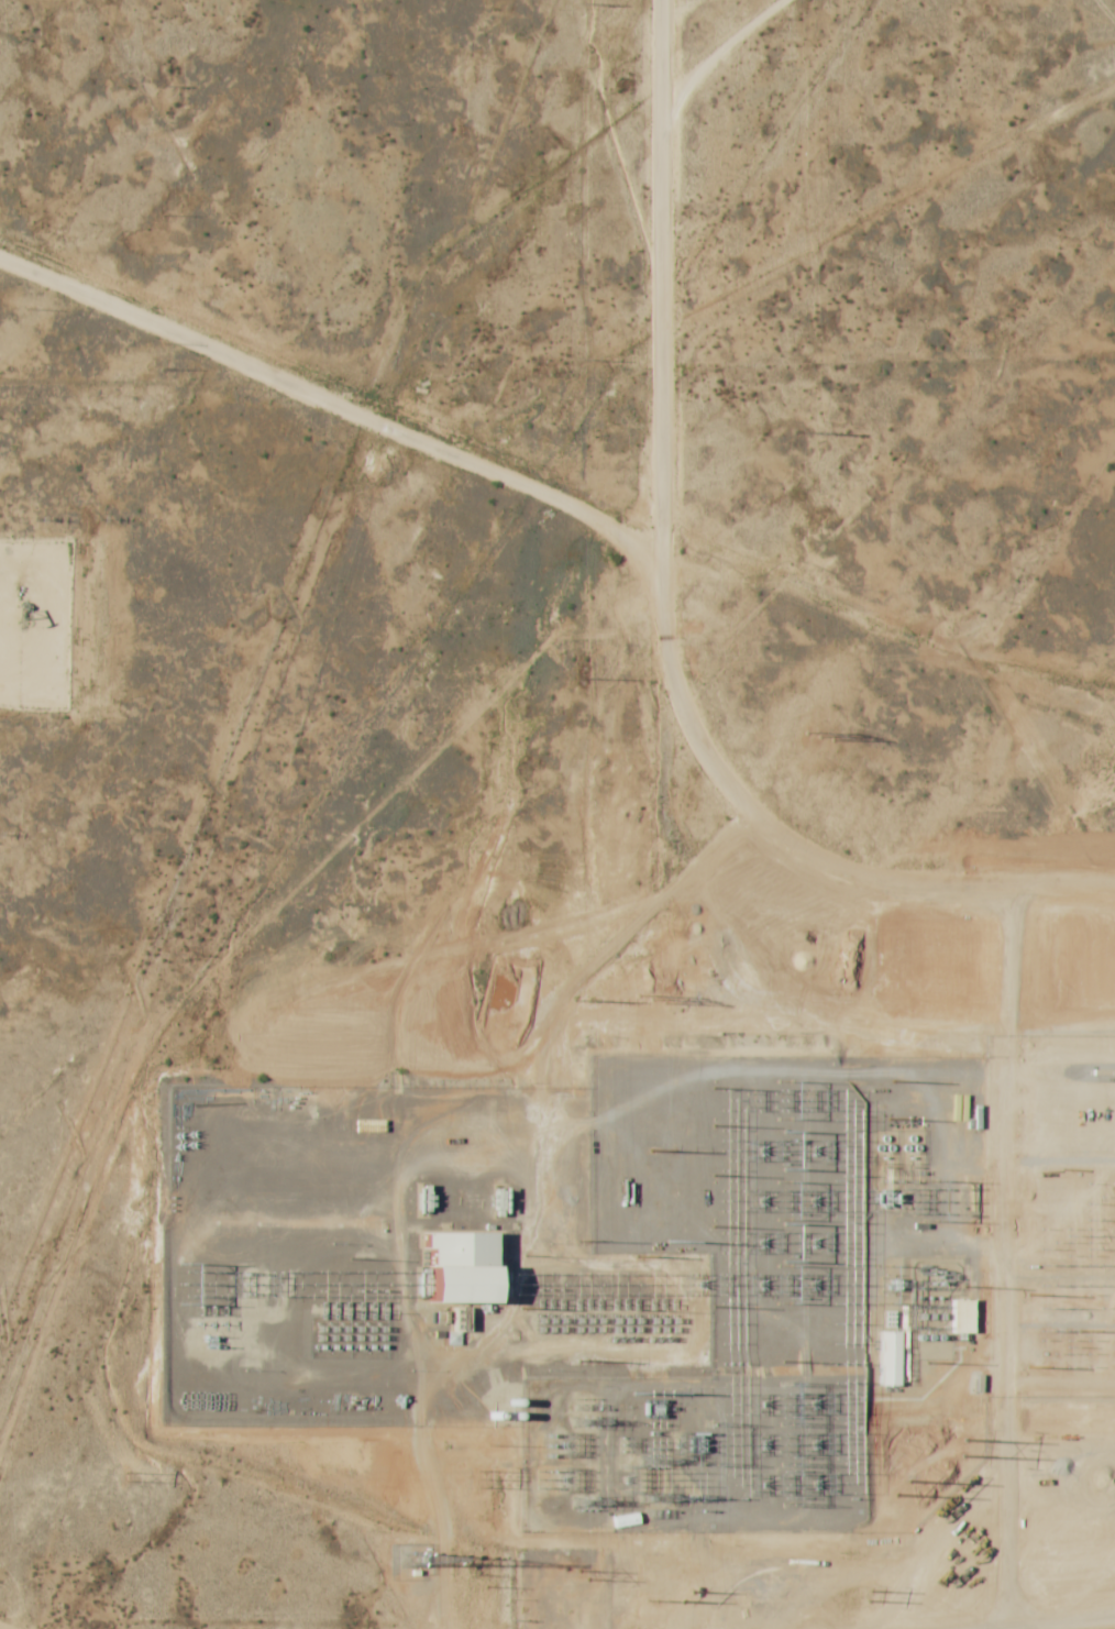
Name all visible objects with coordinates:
power tower: (581, 3)
road: (731, 57)
power tower: (582, 359)
road: (325, 401)
power tower: (799, 433)
road: (655, 629)
power tower: (579, 680)
power tower: (816, 767)
power tower: (585, 1000)
power tower: (870, 1101)
power tower: (586, 1241)
power substation: (589, 1266)
building: (464, 1268)
power tower: (186, 1284)
building: (963, 1317)
building: (891, 1360)
power tower: (784, 1446)
power tower: (923, 1449)
power tower: (129, 1475)
power tower: (479, 1481)
power tower: (904, 1489)
road: (514, 1578)
power tower: (691, 1595)
power tower: (868, 1595)
road: (1068, 1605)

